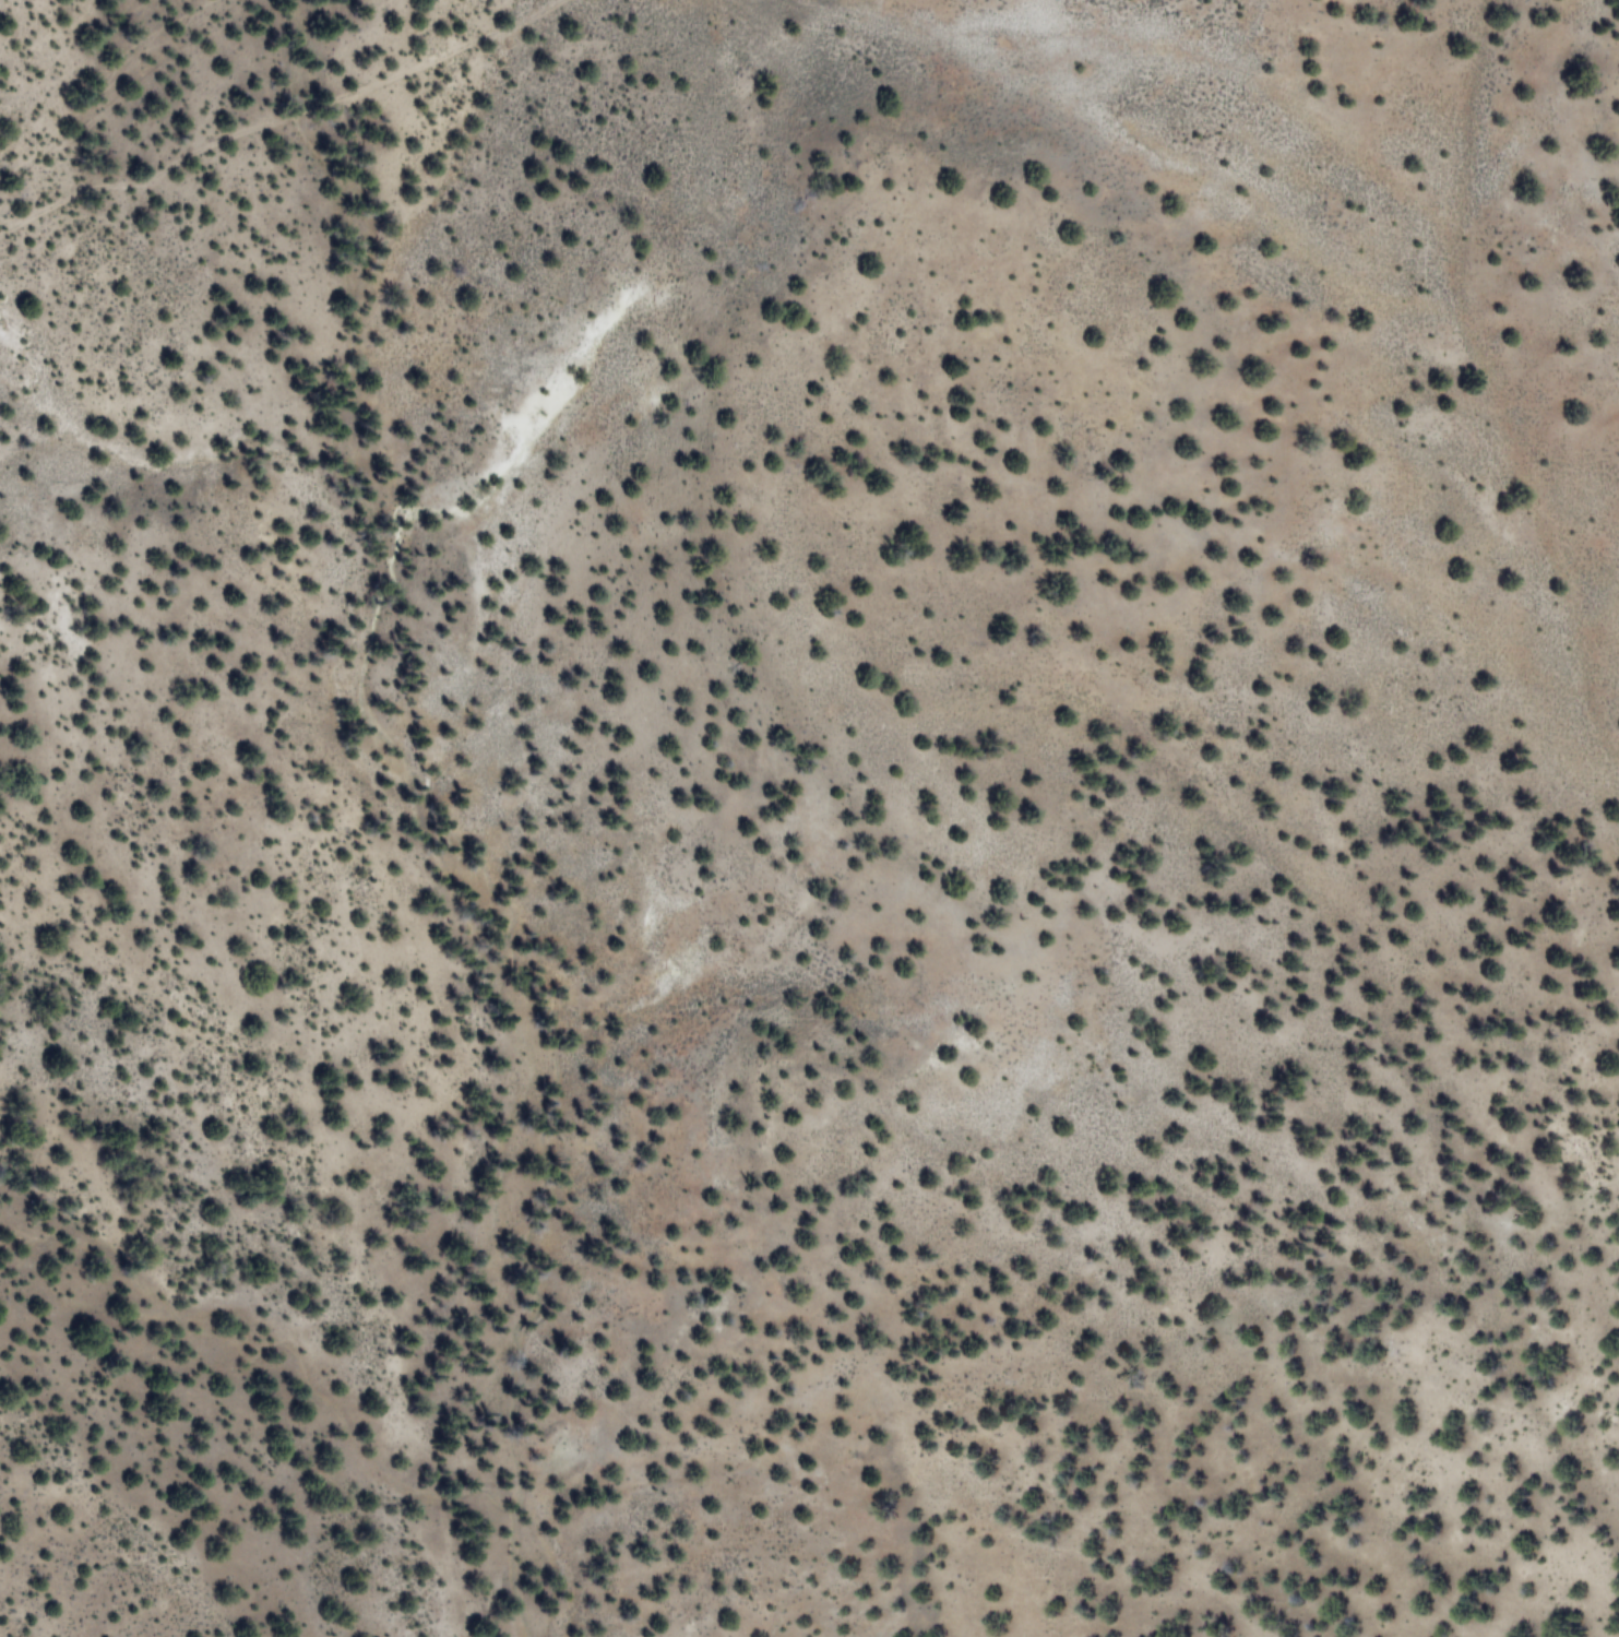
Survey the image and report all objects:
road: (299, 147)

